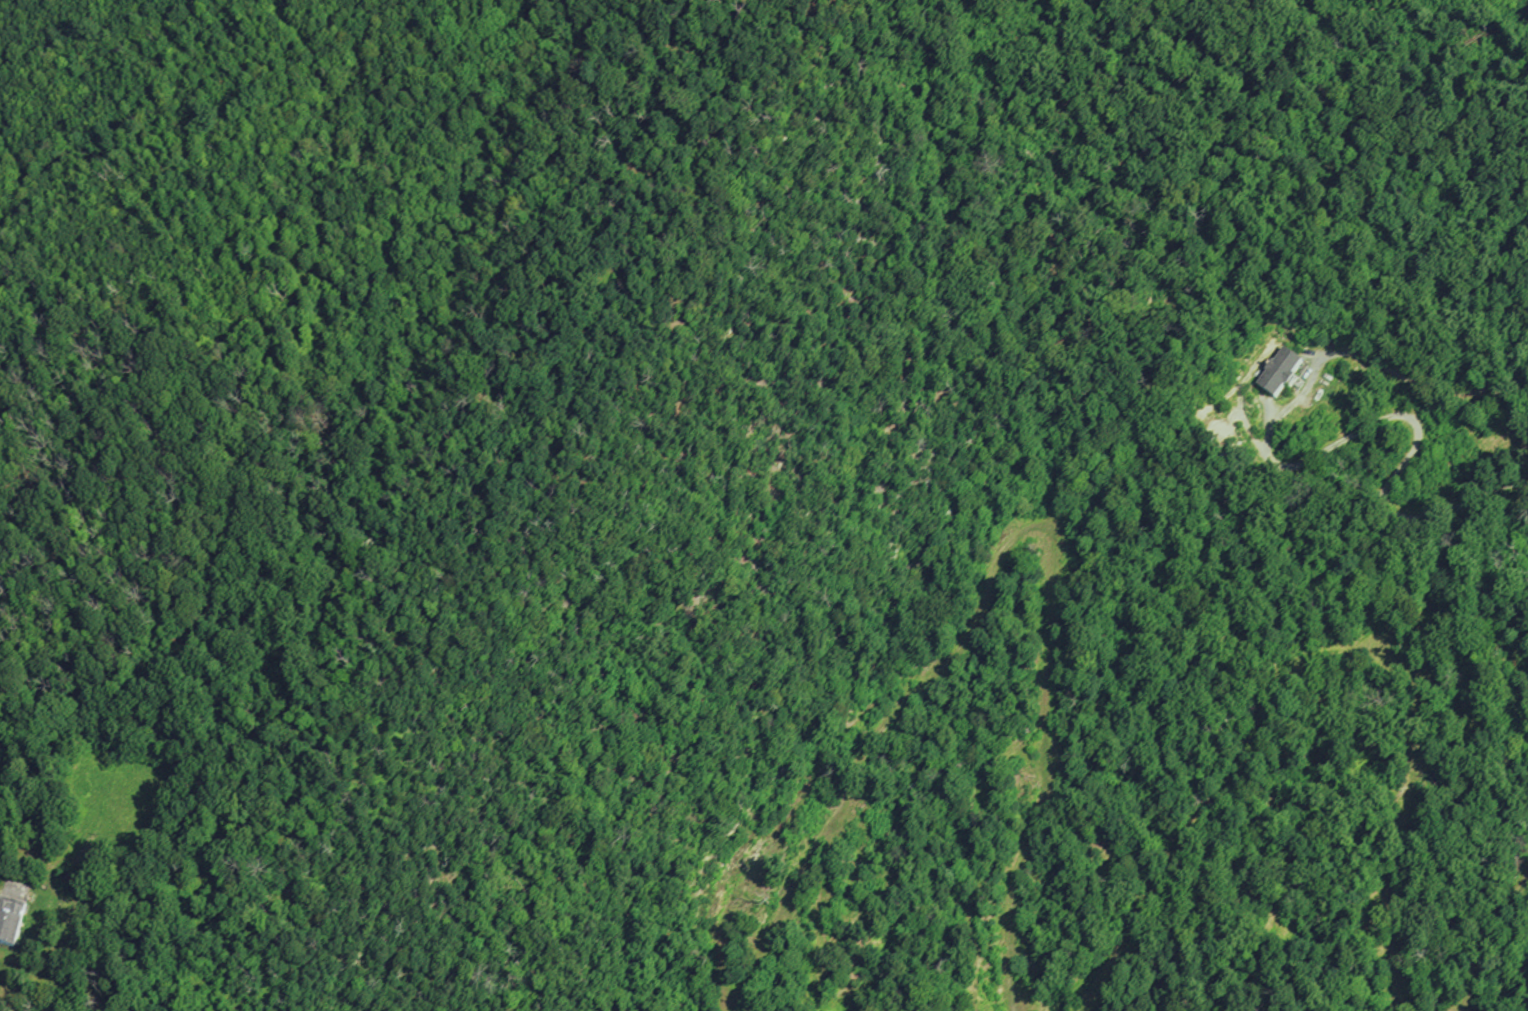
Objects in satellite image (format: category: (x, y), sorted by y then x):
building: (1281, 375)
road: (1411, 380)
road: (1398, 414)
road: (251, 508)
building: (11, 922)

